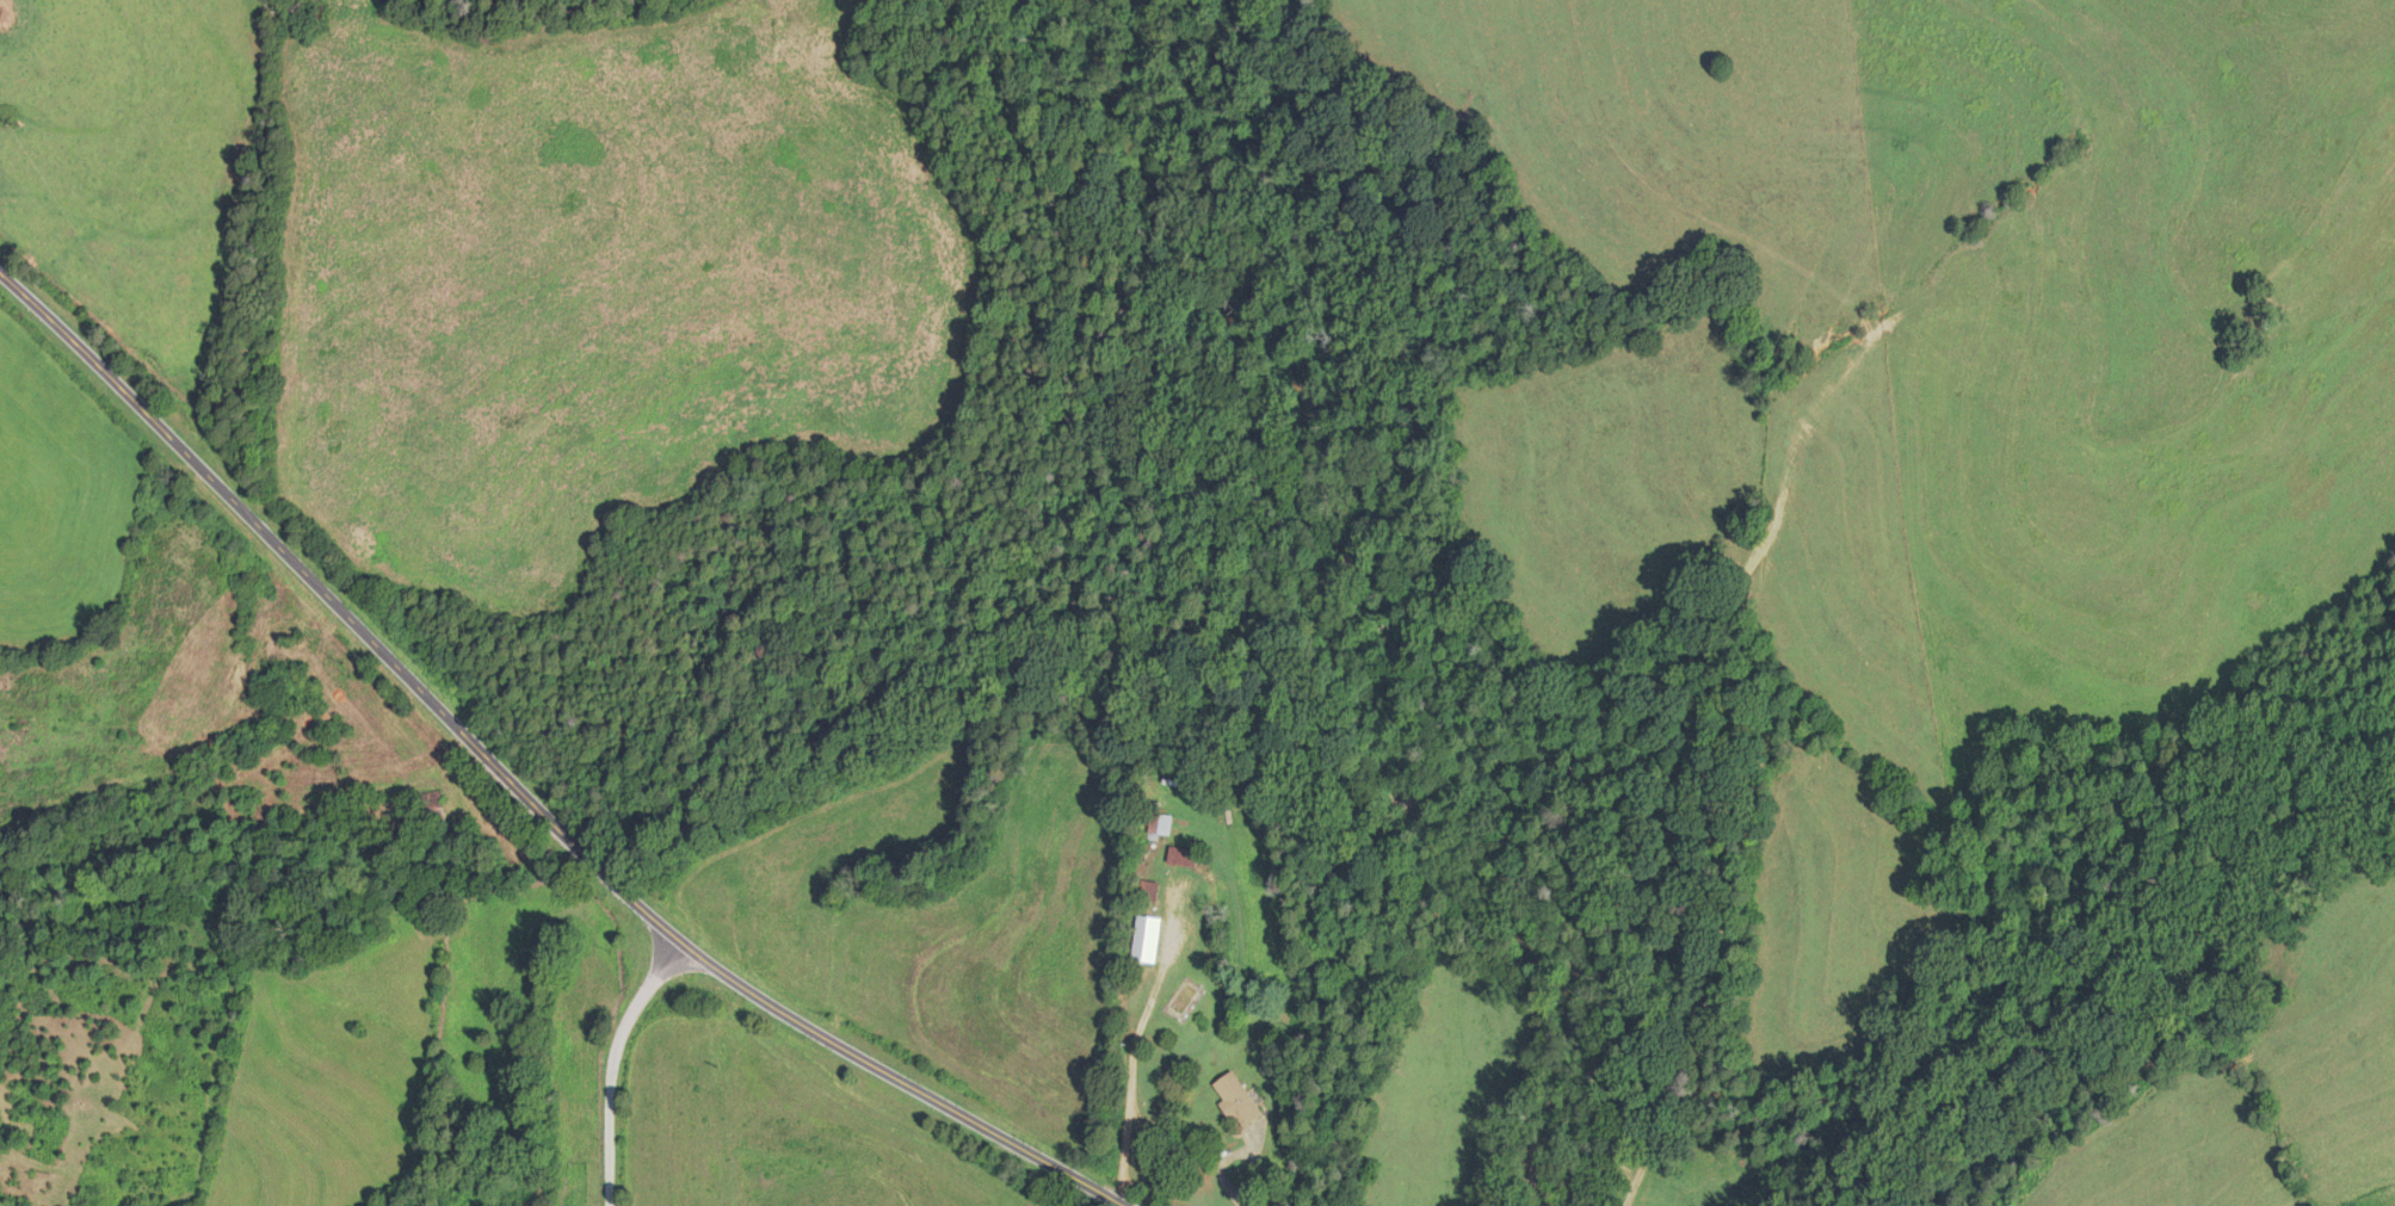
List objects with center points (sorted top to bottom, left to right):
road: (529, 785)
building: (437, 810)
building: (1160, 822)
building: (1184, 858)
building: (1150, 891)
road: (617, 1062)
building: (1239, 1099)
road: (1253, 1169)

